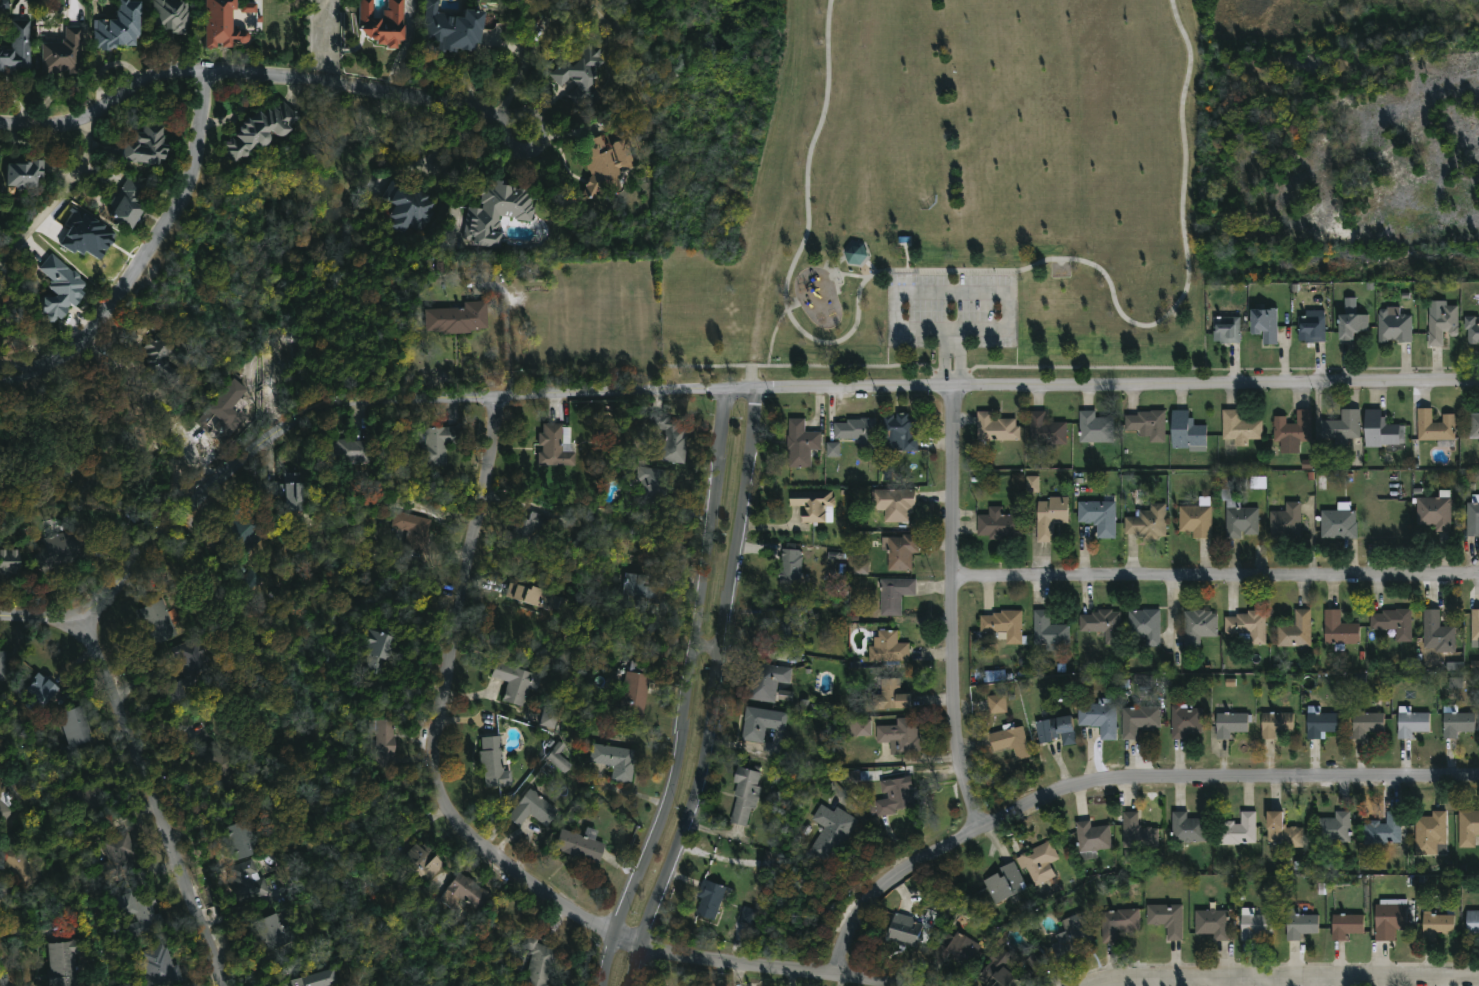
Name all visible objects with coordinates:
building: (248, 7)
building: (178, 15)
building: (387, 21)
building: (227, 23)
building: (125, 26)
building: (457, 26)
road: (323, 38)
building: (22, 46)
building: (70, 51)
building: (579, 63)
road: (366, 80)
building: (585, 94)
road: (106, 99)
building: (266, 128)
road: (546, 141)
building: (154, 144)
building: (601, 163)
building: (34, 171)
park: (963, 193)
road: (68, 196)
building: (136, 202)
building: (413, 205)
building: (502, 208)
building: (87, 235)
building: (853, 253)
road: (153, 255)
road: (970, 273)
building: (67, 287)
parking lot: (952, 309)
building: (461, 318)
building: (1263, 324)
building: (1441, 324)
building: (1393, 325)
building: (1349, 326)
building: (1309, 327)
road: (951, 329)
building: (1225, 329)
building: (1471, 330)
road: (508, 333)
building: (165, 355)
road: (701, 388)
building: (224, 410)
building: (1146, 424)
building: (1434, 426)
building: (1473, 426)
building: (1341, 427)
building: (1093, 428)
building: (1238, 428)
building: (1292, 428)
building: (994, 429)
building: (898, 430)
building: (1044, 430)
building: (1380, 430)
building: (1186, 432)
building: (668, 433)
building: (856, 433)
building: (439, 442)
building: (799, 444)
building: (556, 446)
building: (833, 450)
building: (349, 452)
building: (1032, 484)
building: (646, 490)
building: (292, 492)
building: (895, 504)
building: (812, 506)
building: (1235, 508)
building: (1433, 512)
building: (1049, 517)
building: (1097, 517)
building: (1472, 517)
building: (1195, 519)
building: (1337, 520)
building: (529, 522)
building: (1147, 522)
building: (1284, 522)
building: (997, 524)
building: (416, 530)
building: (245, 531)
building: (71, 547)
building: (899, 551)
building: (13, 560)
building: (787, 566)
building: (861, 568)
road: (1217, 576)
building: (254, 581)
building: (642, 590)
building: (531, 594)
building: (892, 595)
road: (956, 607)
building: (161, 621)
building: (1392, 623)
building: (1002, 625)
building: (1101, 625)
building: (1144, 626)
building: (1197, 626)
building: (1246, 626)
building: (1474, 629)
building: (1047, 630)
building: (1294, 631)
building: (1338, 631)
building: (1436, 633)
building: (782, 635)
building: (385, 649)
building: (887, 649)
building: (3, 661)
building: (195, 672)
building: (1456, 674)
building: (518, 682)
building: (767, 683)
building: (46, 687)
road: (715, 692)
building: (631, 693)
road: (689, 693)
building: (888, 697)
building: (995, 704)
building: (549, 717)
building: (1098, 719)
building: (1137, 720)
building: (1183, 721)
building: (759, 723)
building: (1318, 723)
building: (1364, 723)
building: (1410, 723)
building: (1274, 724)
building: (1456, 724)
building: (79, 725)
building: (1230, 725)
building: (858, 728)
building: (1054, 731)
building: (389, 736)
building: (898, 736)
building: (1009, 740)
building: (559, 757)
building: (610, 759)
building: (497, 762)
building: (224, 766)
road: (1117, 776)
building: (896, 790)
building: (743, 794)
building: (92, 796)
road: (156, 796)
building: (5, 805)
building: (533, 808)
building: (1333, 827)
building: (1467, 827)
building: (1186, 828)
building: (1430, 828)
building: (1382, 829)
building: (1281, 830)
building: (1236, 831)
building: (1136, 832)
building: (829, 833)
road: (475, 837)
building: (246, 839)
building: (1090, 839)
building: (576, 845)
building: (124, 855)
building: (426, 862)
building: (1037, 862)
building: (20, 864)
building: (252, 878)
building: (1002, 882)
building: (467, 892)
building: (707, 898)
building: (146, 909)
building: (749, 916)
building: (1165, 918)
building: (1299, 920)
building: (1388, 920)
building: (1211, 922)
building: (1472, 922)
building: (1115, 923)
building: (1252, 923)
building: (1345, 924)
building: (1435, 925)
building: (903, 928)
building: (278, 931)
building: (1072, 934)
building: (955, 950)
building: (68, 962)
building: (541, 962)
building: (165, 965)
building: (993, 969)
road: (3, 971)
building: (320, 978)
road: (1294, 981)

